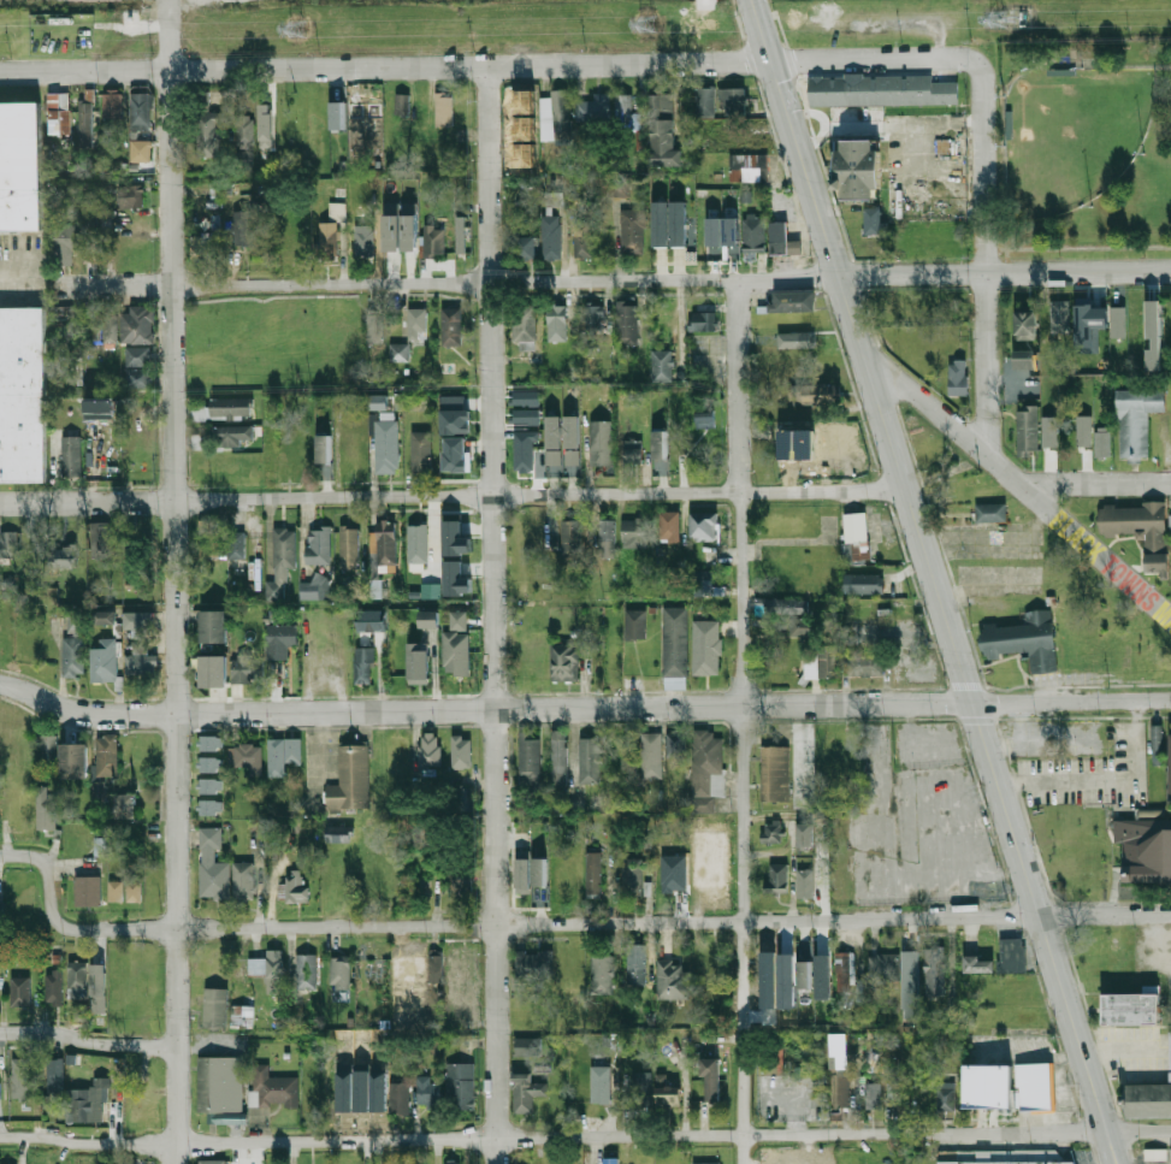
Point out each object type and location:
power tower: (999, 18)
power tower: (297, 25)
power tower: (645, 26)
road: (493, 65)
building: (881, 89)
building: (525, 100)
building: (704, 101)
building: (735, 101)
building: (112, 105)
building: (402, 105)
building: (444, 108)
building: (597, 108)
building: (336, 110)
building: (141, 111)
building: (561, 111)
building: (623, 111)
building: (59, 113)
building: (88, 119)
building: (267, 123)
building: (524, 128)
building: (244, 130)
building: (206, 131)
building: (663, 132)
park: (1070, 135)
building: (141, 150)
building: (525, 154)
building: (747, 166)
building: (858, 167)
building: (18, 169)
road: (806, 178)
building: (130, 196)
building: (554, 199)
building: (336, 211)
building: (874, 221)
building: (660, 223)
building: (676, 224)
building: (242, 228)
building: (409, 228)
building: (392, 230)
building: (632, 230)
building: (731, 231)
building: (714, 232)
building: (461, 235)
building: (753, 235)
building: (551, 236)
building: (582, 237)
building: (363, 238)
building: (781, 240)
building: (89, 241)
building: (327, 241)
building: (65, 242)
building: (433, 242)
building: (524, 246)
building: (201, 247)
road: (986, 264)
road: (611, 279)
building: (792, 301)
building: (1059, 315)
building: (593, 317)
building: (703, 320)
building: (1117, 320)
building: (415, 321)
building: (556, 323)
building: (625, 323)
building: (136, 324)
building: (1025, 324)
building: (1088, 324)
building: (374, 325)
building: (450, 326)
building: (524, 326)
building: (110, 327)
building: (1153, 335)
building: (796, 339)
building: (398, 351)
building: (137, 355)
building: (1023, 359)
building: (661, 366)
building: (137, 377)
building: (957, 377)
building: (815, 392)
building: (23, 395)
building: (525, 397)
building: (377, 401)
building: (100, 408)
building: (223, 408)
building: (454, 414)
building: (524, 415)
building: (1136, 418)
building: (704, 419)
road: (886, 425)
building: (1028, 429)
building: (1048, 430)
building: (1083, 430)
building: (570, 431)
building: (230, 435)
building: (601, 442)
building: (1101, 443)
building: (552, 444)
building: (386, 445)
building: (323, 448)
building: (420, 451)
building: (633, 451)
building: (522, 453)
building: (658, 453)
building: (454, 454)
building: (70, 455)
building: (570, 462)
road: (1021, 484)
road: (1100, 485)
road: (454, 497)
building: (990, 512)
building: (669, 525)
building: (703, 525)
building: (1141, 531)
building: (633, 532)
building: (207, 537)
building: (570, 537)
building: (605, 537)
building: (854, 537)
building: (455, 538)
building: (236, 543)
building: (416, 543)
building: (8, 544)
building: (318, 545)
building: (348, 546)
building: (383, 546)
building: (63, 556)
building: (280, 562)
building: (455, 578)
road: (172, 581)
building: (863, 583)
building: (315, 586)
building: (430, 590)
road: (493, 615)
building: (104, 616)
building: (428, 619)
building: (371, 620)
building: (460, 620)
building: (72, 622)
building: (142, 622)
building: (635, 624)
building: (214, 626)
building: (804, 627)
building: (279, 639)
building: (1027, 640)
building: (675, 646)
building: (706, 646)
building: (455, 652)
building: (72, 656)
building: (105, 661)
building: (141, 662)
building: (418, 662)
building: (564, 662)
building: (820, 662)
building: (363, 664)
building: (864, 664)
building: (247, 668)
building: (212, 670)
road: (582, 710)
road: (743, 721)
building: (1158, 739)
building: (209, 743)
building: (676, 744)
building: (48, 749)
building: (430, 750)
building: (461, 750)
road: (323, 752)
building: (283, 754)
building: (530, 754)
building: (106, 755)
building: (396, 755)
building: (651, 755)
building: (246, 756)
building: (558, 757)
building: (591, 760)
building: (73, 761)
building: (1170, 761)
building: (209, 764)
building: (705, 768)
building: (774, 773)
road: (1104, 776)
building: (350, 779)
building: (209, 785)
building: (97, 791)
building: (463, 798)
building: (124, 805)
building: (209, 808)
building: (45, 809)
road: (1010, 815)
building: (771, 832)
building: (338, 833)
building: (804, 837)
building: (100, 845)
building: (1143, 849)
building: (223, 870)
building: (592, 874)
building: (564, 876)
building: (631, 876)
building: (673, 878)
building: (776, 878)
building: (520, 879)
building: (460, 882)
building: (805, 882)
building: (294, 888)
building: (87, 890)
building: (124, 890)
road: (560, 924)
building: (1011, 955)
building: (635, 963)
building: (978, 963)
building: (461, 964)
building: (803, 964)
building: (533, 965)
building: (883, 967)
building: (434, 968)
building: (270, 970)
building: (306, 970)
building: (844, 970)
building: (934, 971)
building: (339, 973)
building: (602, 974)
building: (822, 976)
building: (672, 979)
building: (910, 983)
building: (54, 987)
building: (87, 989)
building: (19, 991)
building: (1131, 1008)
building: (214, 1009)
building: (241, 1016)
road: (87, 1040)
building: (528, 1046)
building: (839, 1052)
building: (19, 1076)
building: (54, 1079)
building: (710, 1079)
building: (0, 1082)
building: (601, 1083)
building: (219, 1085)
building: (460, 1085)
building: (987, 1086)
building: (427, 1088)
building: (640, 1088)
building: (1034, 1088)
building: (271, 1089)
building: (670, 1091)
building: (526, 1092)
building: (839, 1092)
building: (893, 1093)
building: (945, 1095)
building: (873, 1097)
building: (1148, 1097)
building: (400, 1098)
road: (794, 1099)
building: (85, 1101)
road: (585, 1135)
road: (1111, 1152)
road: (1116, 1152)
building: (1155, 1153)
building: (1001, 1157)
building: (625, 1159)
building: (212, 1162)
building: (563, 1162)
building: (451, 1163)
building: (705, 1163)

